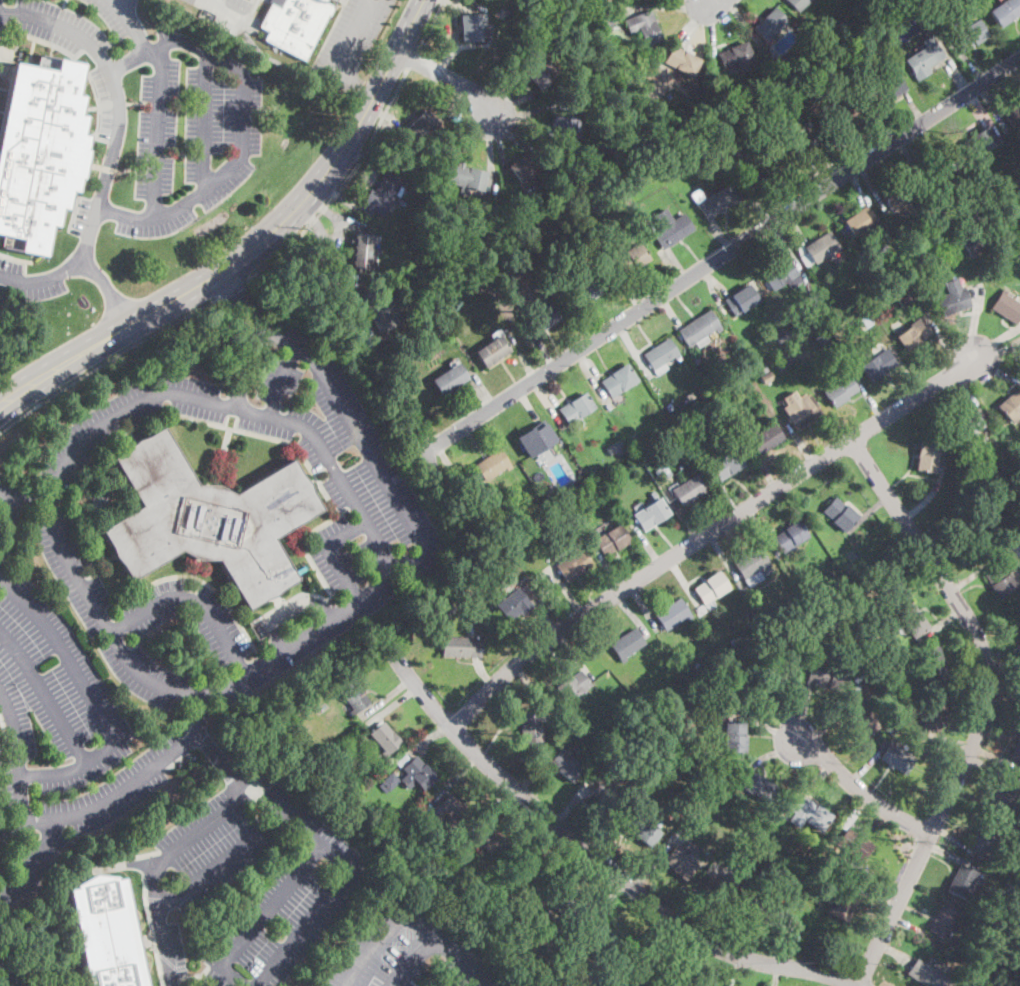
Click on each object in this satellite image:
building: (553, 0)
road: (706, 2)
road: (716, 2)
building: (903, 2)
road: (114, 3)
road: (121, 3)
building: (800, 3)
road: (215, 4)
road: (658, 6)
road: (464, 7)
parking lot: (229, 9)
building: (1005, 11)
road: (233, 19)
road: (744, 22)
parking lot: (79, 24)
building: (597, 24)
building: (770, 24)
building: (294, 25)
road: (455, 27)
building: (644, 27)
road: (711, 27)
road: (135, 28)
building: (470, 28)
road: (685, 29)
building: (882, 29)
building: (970, 35)
road: (355, 36)
parking lot: (352, 38)
building: (869, 42)
road: (457, 49)
building: (735, 58)
building: (924, 58)
building: (683, 60)
road: (968, 61)
building: (786, 65)
building: (537, 71)
road: (449, 76)
road: (959, 76)
road: (509, 80)
road: (356, 83)
building: (698, 88)
building: (885, 92)
building: (790, 95)
road: (117, 101)
road: (519, 101)
road: (450, 102)
road: (992, 106)
road: (916, 107)
road: (531, 110)
road: (383, 114)
road: (986, 114)
building: (843, 118)
building: (1013, 118)
road: (205, 120)
road: (242, 123)
road: (534, 125)
building: (563, 126)
building: (418, 127)
road: (158, 130)
road: (514, 134)
parking lot: (170, 136)
road: (473, 137)
building: (979, 141)
road: (499, 144)
road: (490, 146)
building: (798, 148)
road: (341, 149)
building: (40, 151)
road: (850, 151)
building: (740, 156)
building: (673, 160)
road: (914, 160)
road: (830, 161)
building: (525, 167)
building: (941, 167)
building: (761, 172)
building: (466, 178)
road: (857, 185)
road: (875, 187)
road: (361, 190)
building: (999, 192)
building: (382, 195)
road: (345, 199)
building: (901, 199)
building: (714, 200)
road: (757, 205)
building: (1018, 211)
building: (641, 218)
road: (335, 219)
building: (860, 221)
building: (625, 222)
road: (349, 223)
road: (797, 226)
building: (937, 227)
building: (671, 228)
road: (721, 234)
building: (973, 240)
building: (821, 247)
road: (789, 252)
building: (364, 253)
road: (722, 254)
building: (628, 258)
road: (675, 265)
road: (338, 271)
building: (882, 272)
building: (570, 275)
building: (782, 275)
road: (42, 276)
parking lot: (33, 278)
road: (711, 282)
building: (863, 284)
road: (629, 288)
road: (109, 289)
building: (857, 290)
building: (583, 291)
building: (903, 295)
building: (953, 296)
building: (742, 300)
building: (813, 300)
building: (382, 306)
building: (1007, 307)
road: (670, 310)
building: (543, 317)
road: (589, 322)
road: (975, 322)
building: (699, 328)
road: (256, 333)
road: (937, 333)
building: (913, 334)
road: (109, 335)
building: (782, 337)
road: (997, 341)
building: (823, 342)
road: (634, 349)
road: (546, 350)
road: (998, 350)
building: (493, 351)
building: (431, 352)
building: (661, 355)
road: (525, 359)
road: (900, 359)
road: (108, 361)
building: (434, 363)
building: (879, 365)
road: (996, 370)
road: (590, 371)
building: (767, 376)
building: (450, 379)
road: (279, 380)
building: (619, 380)
road: (859, 384)
road: (482, 389)
building: (842, 391)
road: (969, 391)
road: (546, 403)
road: (529, 404)
building: (1011, 404)
building: (576, 409)
building: (804, 412)
building: (966, 425)
building: (536, 438)
building: (764, 438)
road: (801, 440)
building: (636, 442)
building: (614, 446)
road: (364, 447)
building: (926, 455)
building: (492, 464)
building: (727, 464)
road: (760, 464)
road: (453, 466)
road: (6, 485)
building: (687, 490)
building: (551, 491)
road: (5, 493)
building: (970, 493)
road: (30, 496)
road: (727, 499)
road: (925, 500)
building: (970, 504)
building: (476, 508)
road: (681, 511)
road: (868, 511)
building: (500, 512)
building: (575, 514)
building: (651, 514)
building: (839, 514)
parking lot: (382, 517)
building: (206, 519)
building: (562, 523)
building: (1017, 523)
road: (939, 525)
building: (507, 526)
building: (808, 526)
road: (9, 527)
road: (764, 533)
road: (705, 534)
building: (971, 536)
building: (790, 537)
building: (1019, 538)
building: (611, 540)
road: (645, 540)
building: (1017, 549)
road: (329, 552)
road: (908, 555)
road: (726, 557)
building: (574, 565)
building: (752, 565)
building: (847, 569)
road: (613, 573)
road: (971, 575)
building: (998, 580)
building: (887, 582)
road: (685, 583)
building: (711, 588)
road: (567, 591)
building: (809, 591)
road: (366, 594)
road: (193, 598)
building: (447, 604)
building: (512, 604)
road: (288, 607)
road: (540, 607)
building: (788, 608)
building: (831, 610)
building: (495, 612)
building: (811, 612)
road: (631, 614)
building: (672, 614)
building: (912, 619)
road: (938, 623)
building: (869, 630)
building: (1019, 630)
building: (795, 641)
building: (856, 641)
building: (733, 642)
building: (627, 644)
building: (461, 646)
road: (574, 654)
road: (1003, 662)
building: (698, 663)
building: (935, 667)
road: (483, 673)
road: (970, 674)
building: (827, 676)
building: (768, 679)
road: (527, 683)
building: (572, 685)
road: (1003, 686)
building: (802, 688)
road: (46, 693)
building: (352, 696)
road: (387, 696)
road: (90, 697)
road: (793, 703)
road: (391, 705)
building: (551, 705)
road: (800, 706)
road: (985, 706)
building: (572, 713)
building: (932, 714)
building: (861, 719)
road: (827, 721)
building: (529, 726)
road: (766, 726)
building: (891, 730)
building: (735, 736)
building: (385, 738)
road: (429, 738)
parking lot: (60, 740)
road: (946, 740)
road: (212, 748)
building: (301, 748)
building: (1016, 748)
road: (775, 755)
building: (896, 757)
road: (995, 757)
building: (378, 759)
building: (703, 759)
building: (401, 760)
road: (871, 761)
road: (982, 763)
building: (566, 765)
road: (537, 767)
road: (19, 768)
building: (417, 774)
road: (455, 779)
road: (811, 780)
building: (388, 782)
building: (754, 783)
building: (726, 787)
road: (860, 790)
building: (1003, 792)
road: (115, 795)
building: (605, 798)
road: (573, 801)
road: (497, 805)
building: (686, 807)
road: (860, 812)
building: (451, 813)
building: (809, 814)
building: (693, 815)
building: (391, 828)
building: (470, 830)
building: (643, 830)
road: (614, 834)
building: (984, 835)
road: (954, 839)
building: (492, 842)
building: (852, 847)
road: (951, 855)
road: (598, 857)
building: (730, 857)
road: (33, 860)
road: (146, 860)
building: (680, 862)
road: (221, 863)
building: (457, 863)
road: (653, 864)
road: (158, 865)
building: (764, 866)
road: (551, 868)
building: (749, 868)
road: (884, 874)
building: (523, 876)
road: (340, 878)
building: (962, 881)
parking lot: (247, 884)
building: (719, 890)
road: (699, 892)
road: (873, 892)
building: (1014, 896)
road: (599, 897)
building: (481, 901)
building: (841, 901)
road: (609, 903)
building: (566, 906)
building: (516, 908)
building: (765, 911)
building: (547, 914)
road: (262, 918)
road: (412, 919)
building: (944, 920)
road: (916, 929)
building: (104, 932)
road: (791, 938)
building: (602, 939)
road: (783, 942)
parking lot: (406, 948)
road: (636, 949)
road: (893, 953)
road: (411, 961)
road: (692, 962)
building: (958, 967)
road: (734, 971)
building: (645, 973)
road: (7, 975)
road: (776, 975)
building: (928, 975)
road: (845, 982)
building: (585, 983)
road: (171, 984)

